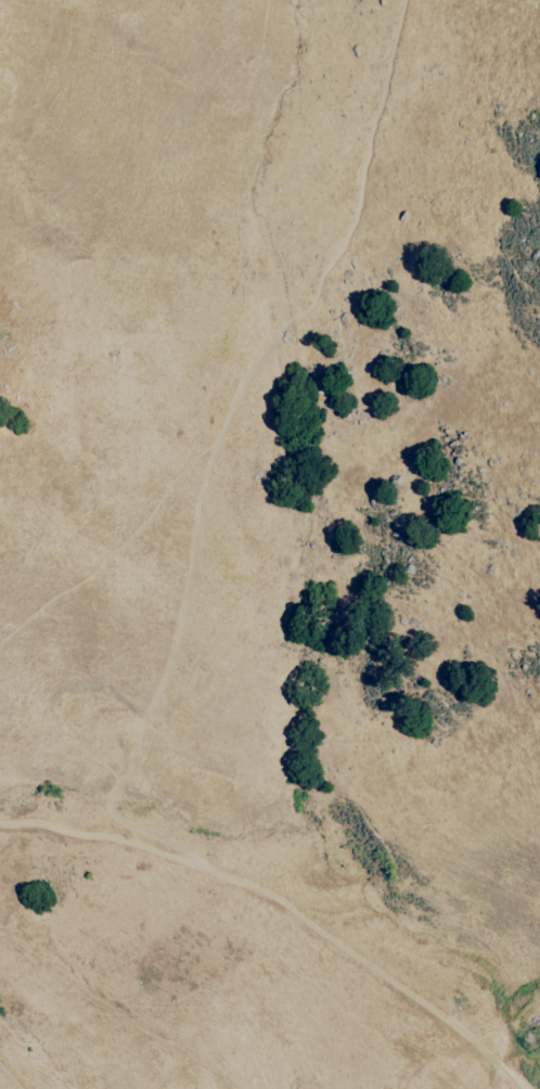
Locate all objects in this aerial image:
road: (211, 450)
road: (116, 553)
road: (106, 842)
road: (373, 970)
road: (9, 1078)

